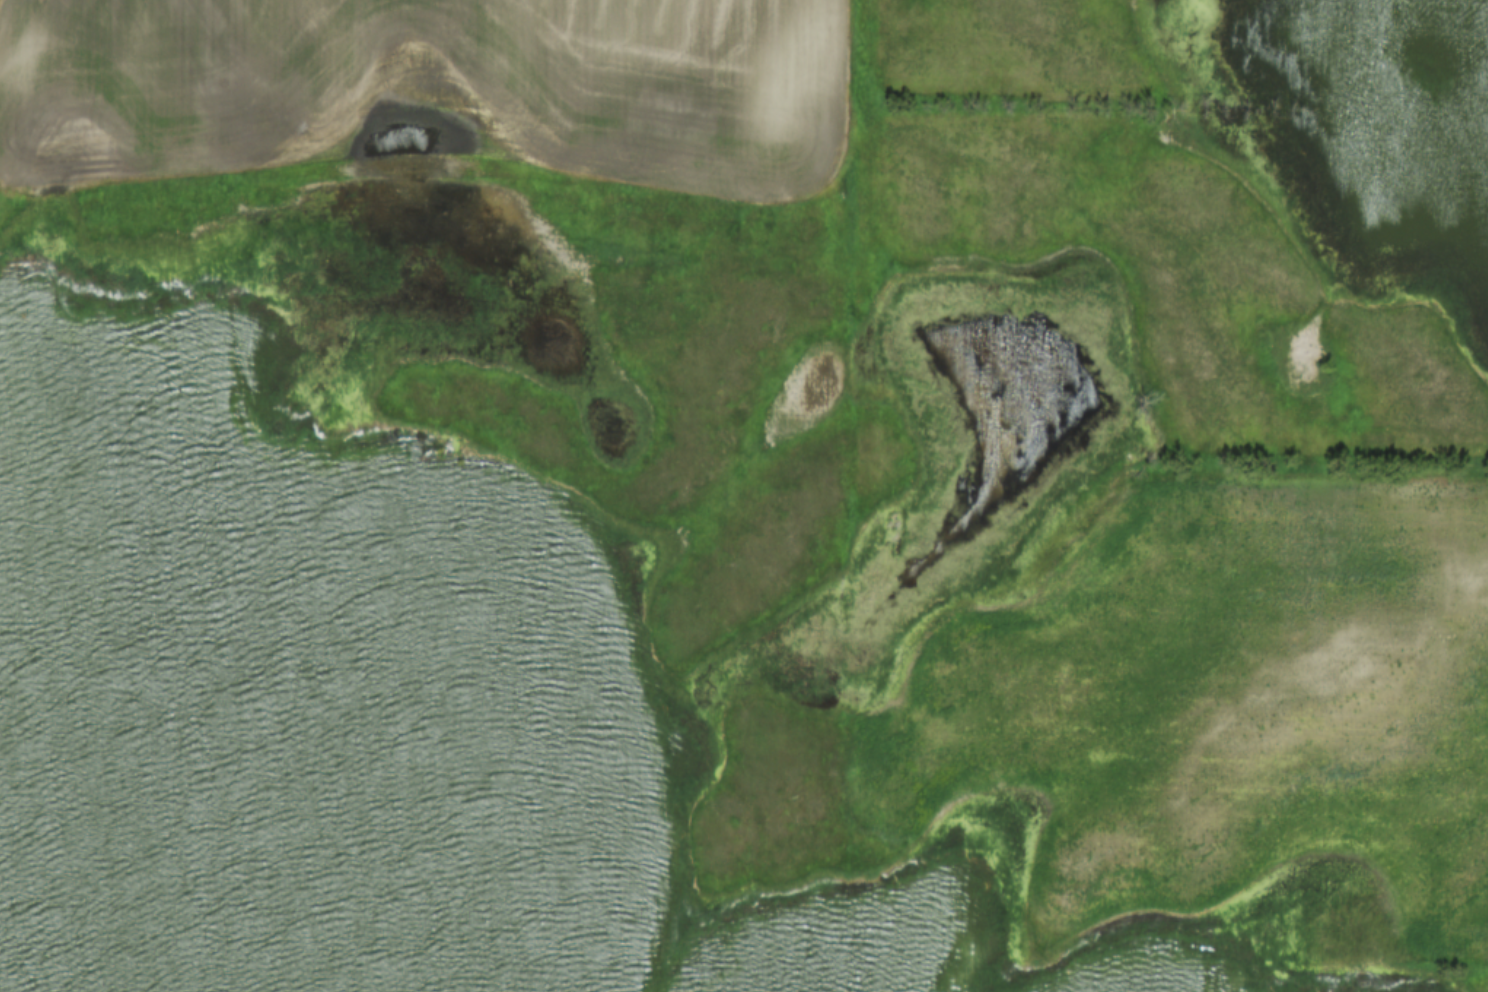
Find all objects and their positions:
road: (0, 2)

